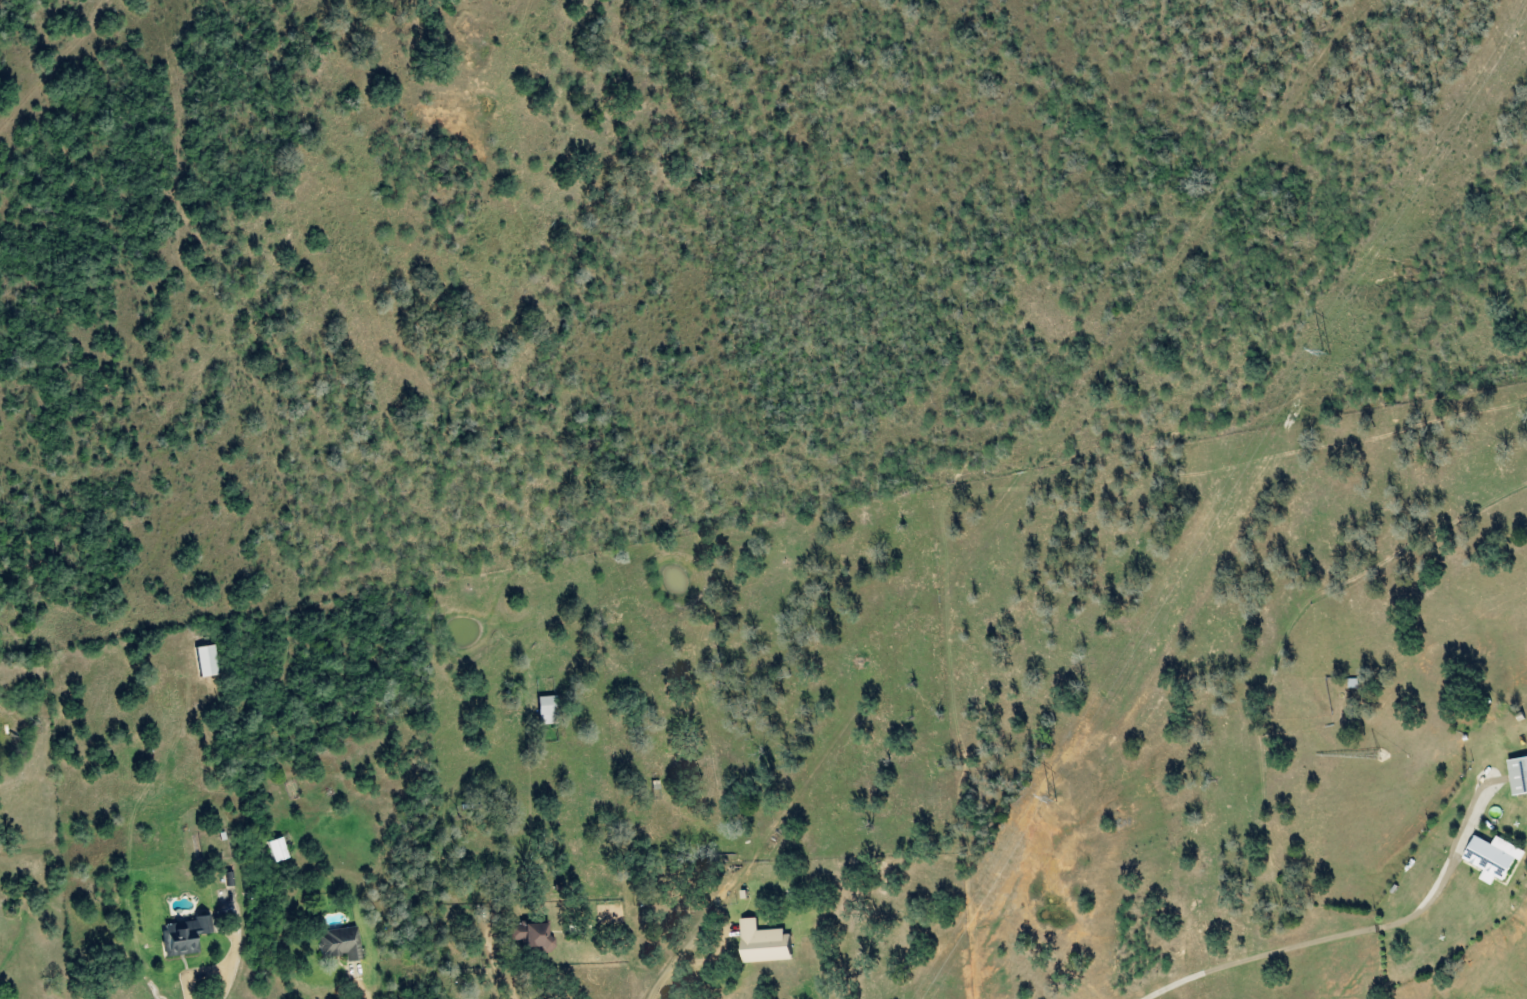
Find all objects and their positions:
power tower: (1330, 356)
building: (203, 661)
building: (543, 711)
building: (1516, 777)
power tower: (1059, 801)
building: (275, 850)
building: (1489, 859)
building: (183, 936)
building: (528, 936)
building: (339, 944)
building: (760, 944)
road: (233, 966)
road: (200, 974)
road: (362, 985)

